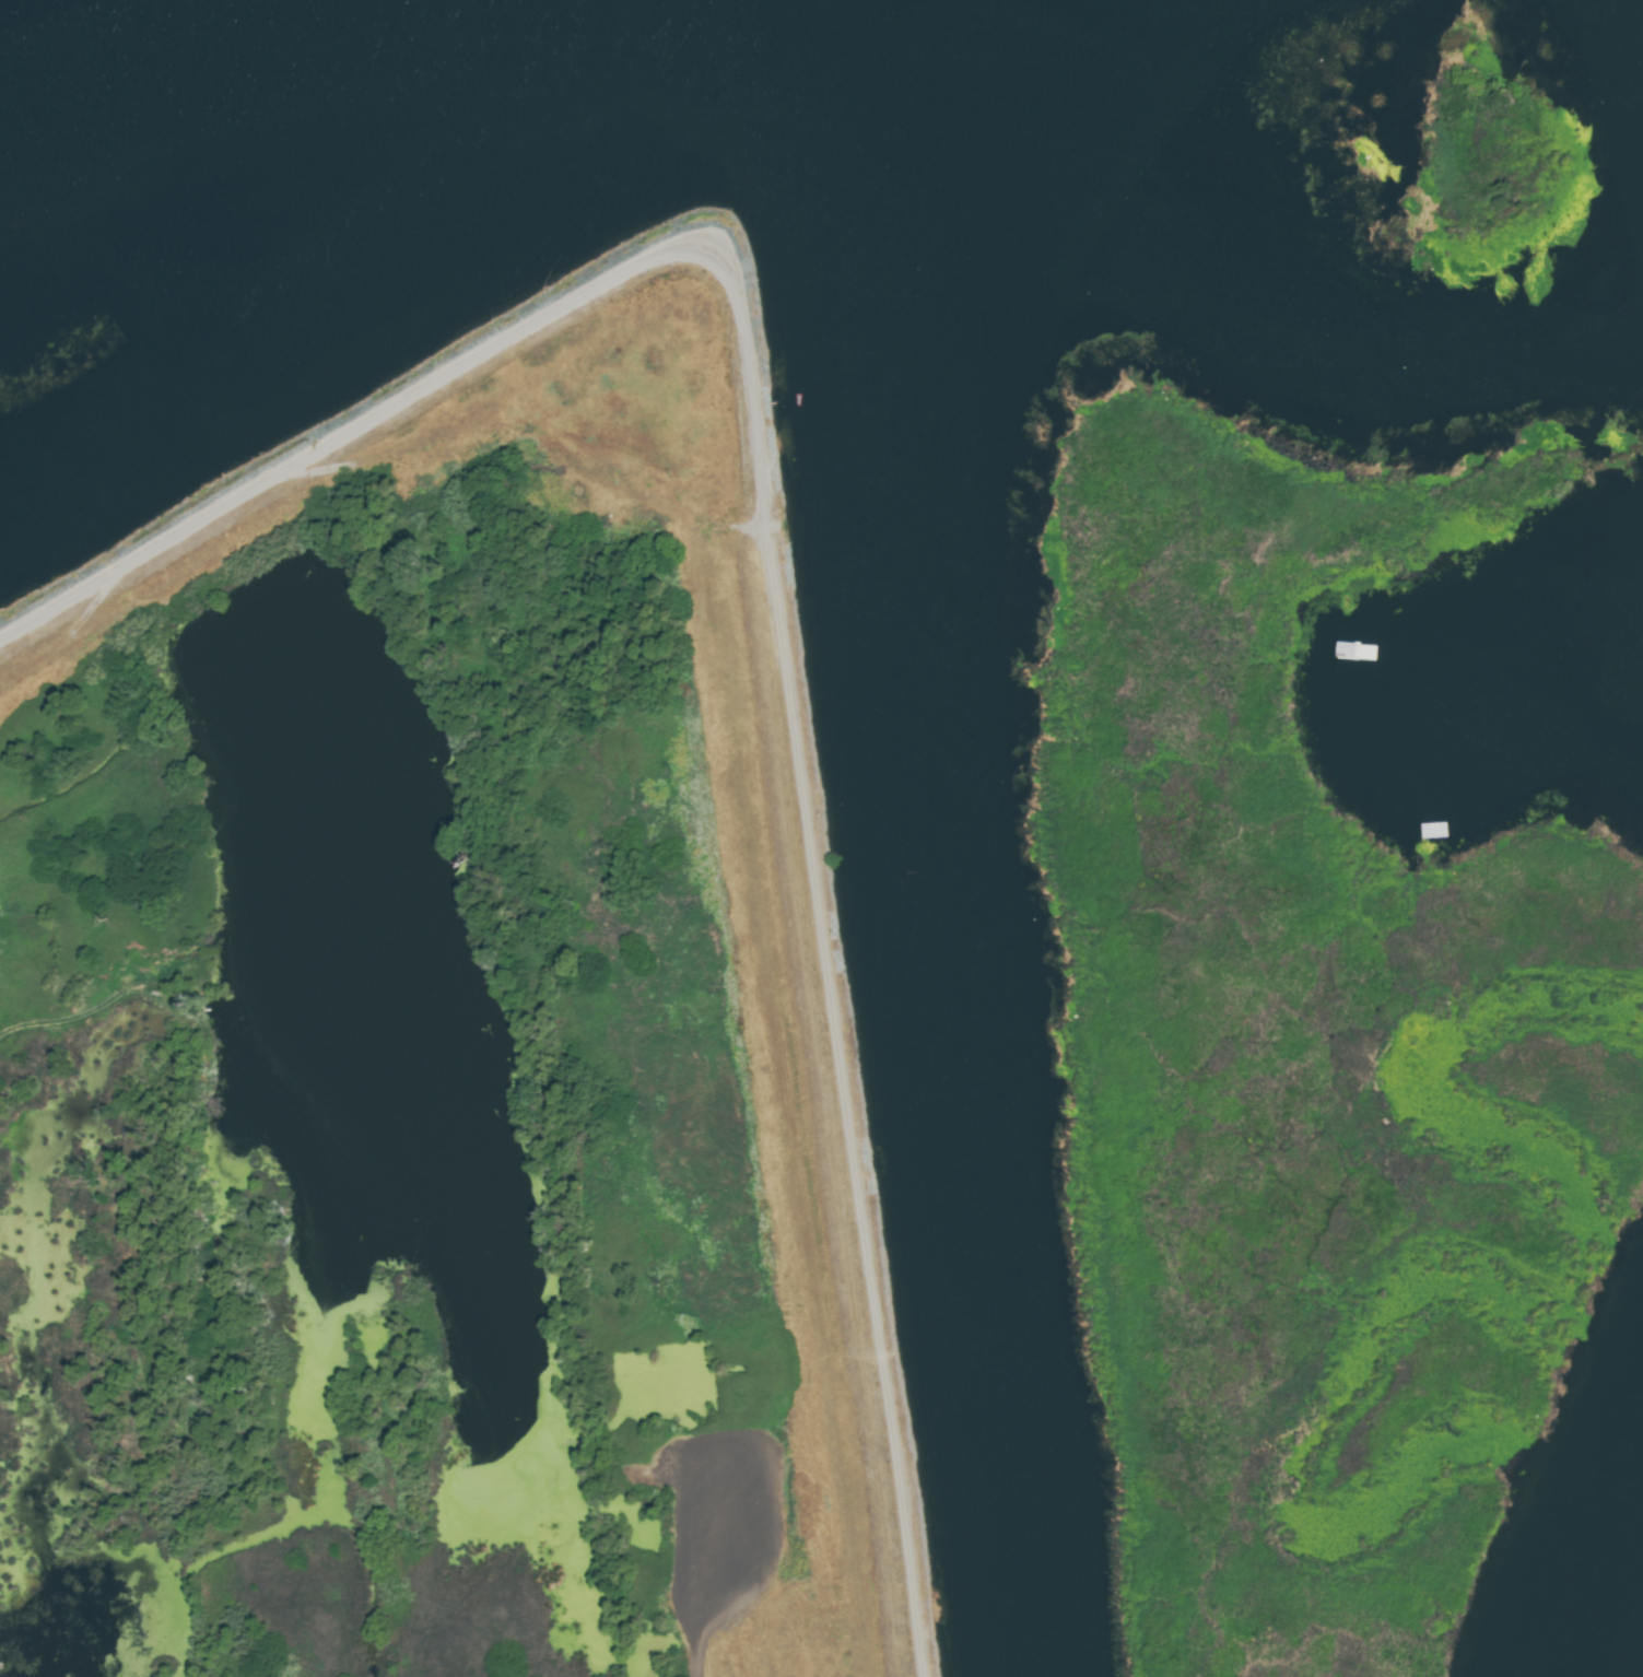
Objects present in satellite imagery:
building: (1358, 646)
crop: (447, 1065)
road: (900, 1556)

